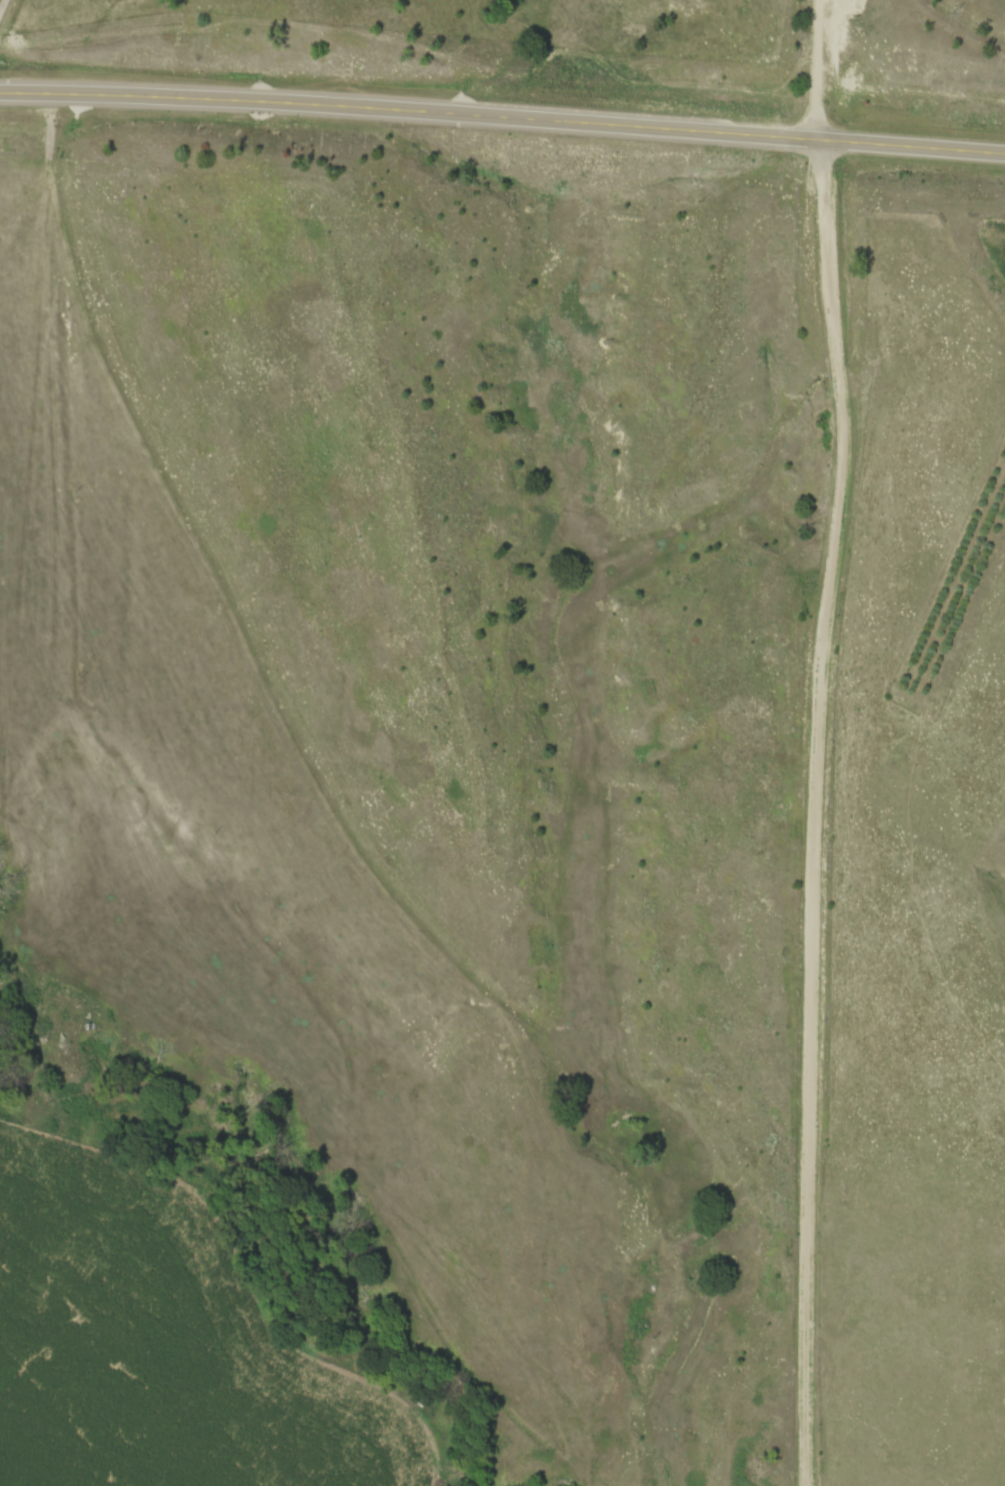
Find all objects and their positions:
road: (0, 1)
airport: (921, 60)
road: (503, 111)
crop: (995, 230)
road: (815, 741)
crop: (163, 1347)

